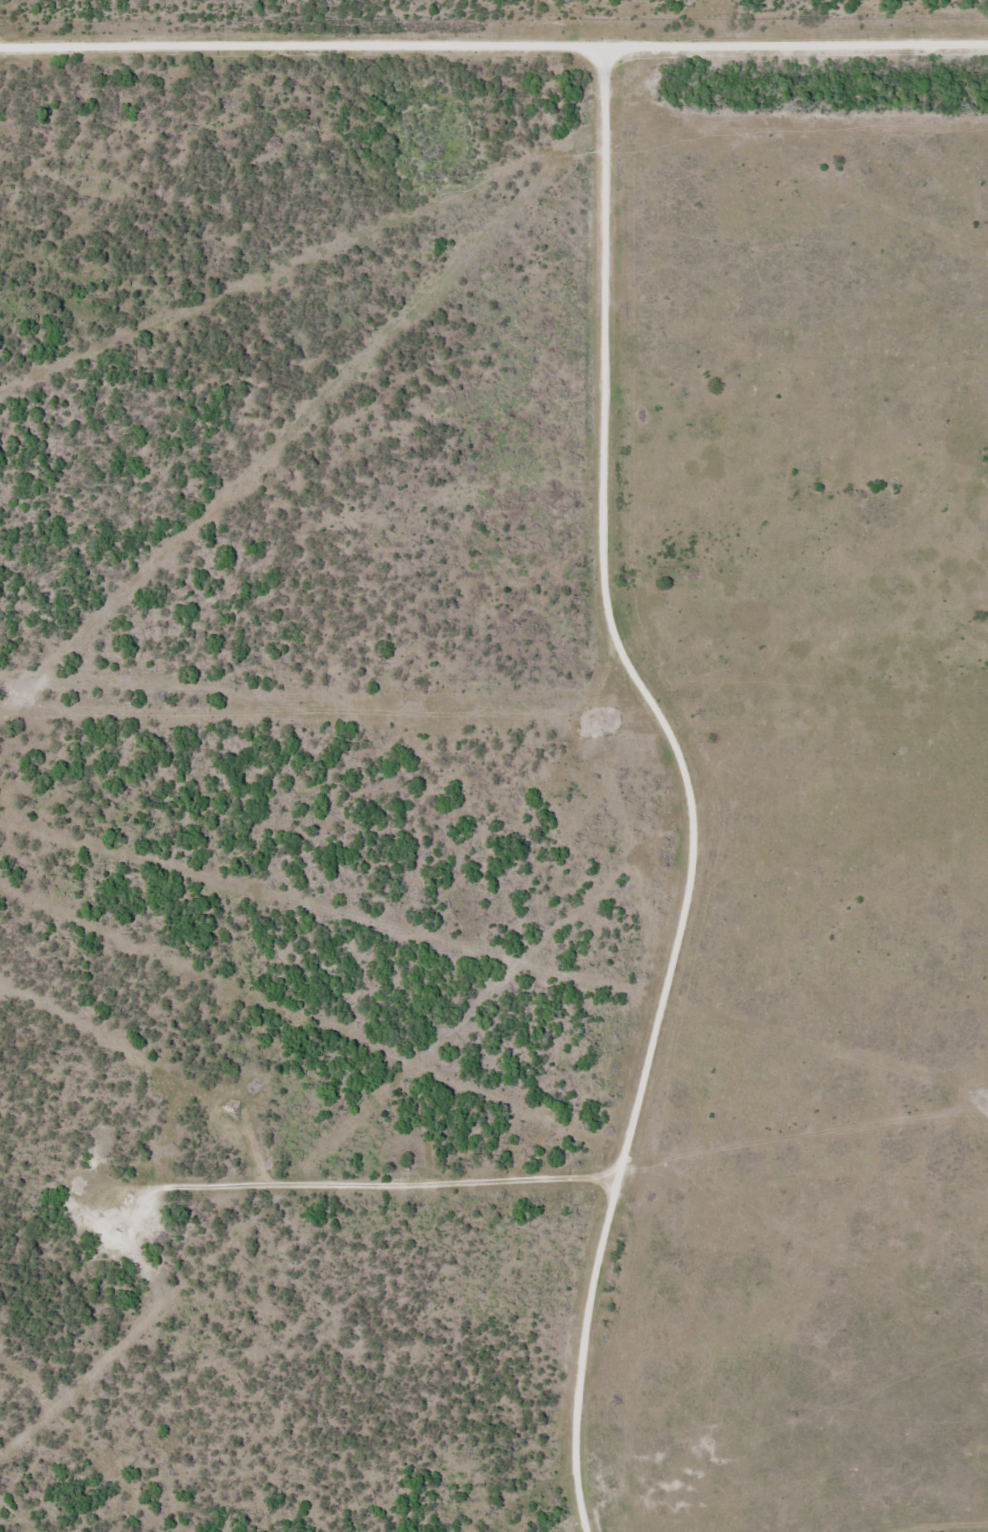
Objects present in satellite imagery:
road: (493, 38)
road: (666, 786)

